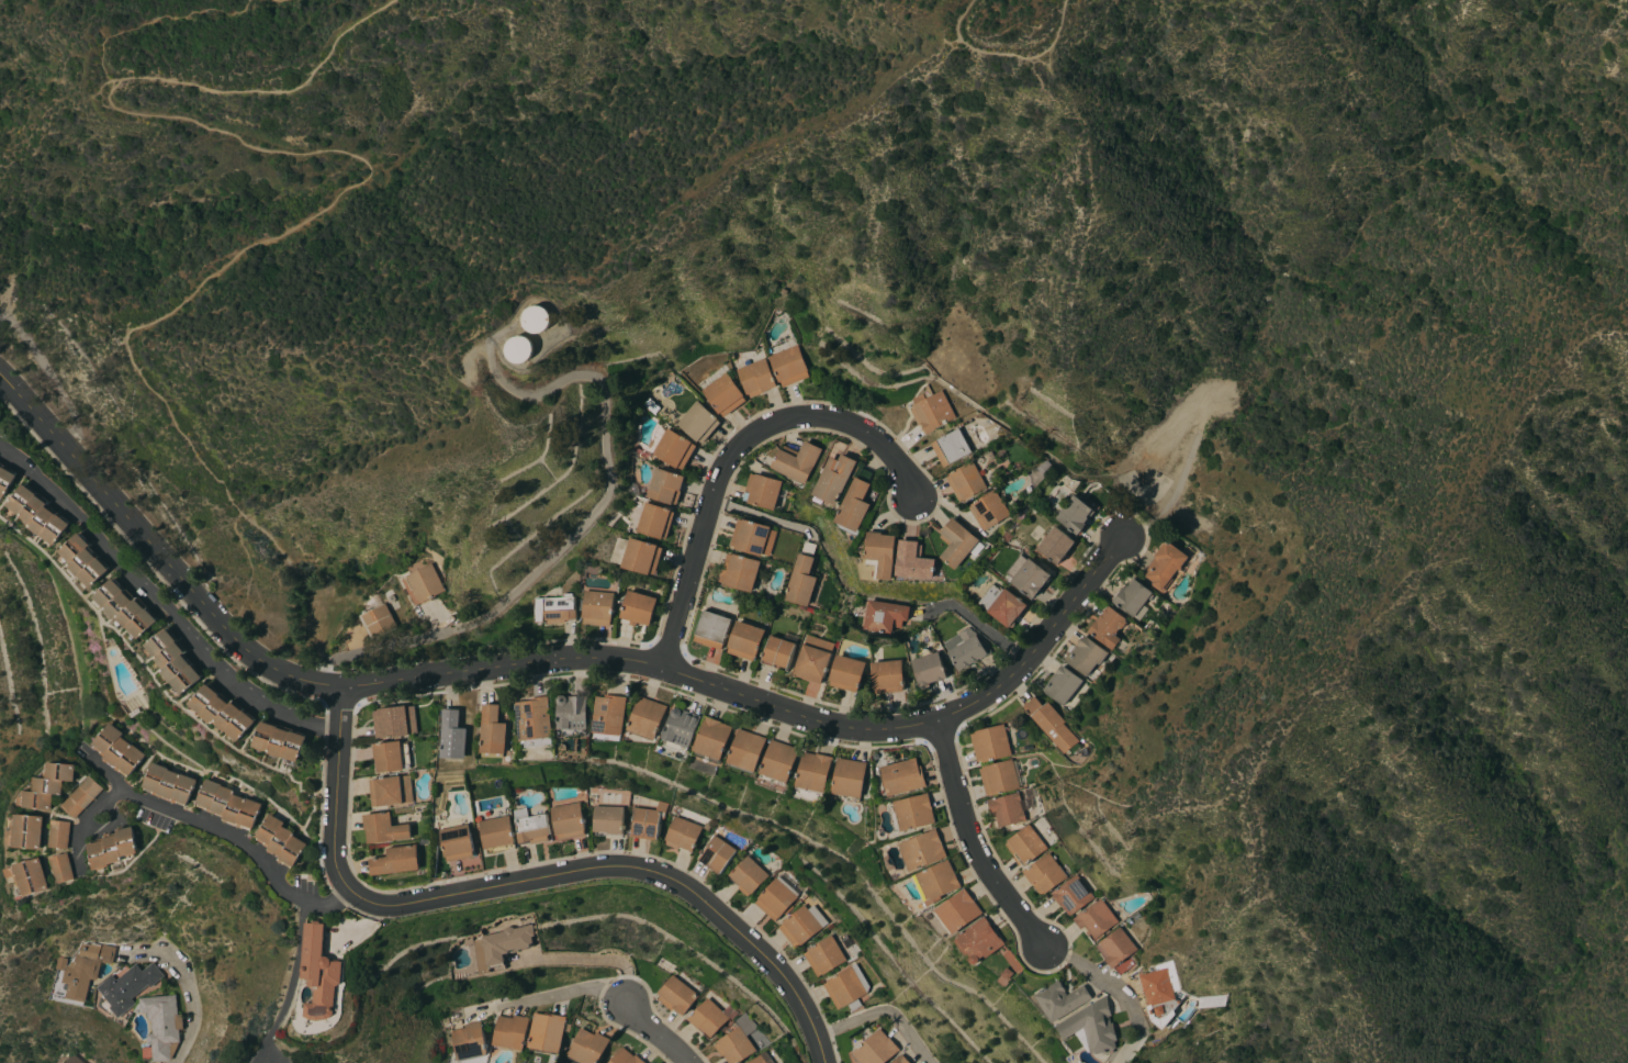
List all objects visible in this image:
road: (1000, 41)
road: (248, 72)
road: (202, 265)
building: (535, 318)
building: (519, 349)
building: (788, 366)
building: (756, 378)
building: (723, 394)
building: (931, 412)
building: (697, 422)
building: (951, 447)
building: (673, 449)
road: (729, 450)
building: (797, 462)
building: (834, 479)
building: (5, 481)
building: (966, 481)
building: (664, 486)
building: (762, 491)
building: (854, 505)
building: (989, 511)
building: (1074, 514)
building: (38, 515)
road: (585, 519)
building: (652, 522)
building: (752, 538)
building: (956, 542)
building: (1055, 546)
building: (880, 553)
building: (635, 556)
building: (83, 561)
building: (913, 562)
building: (1164, 566)
building: (740, 572)
building: (1026, 575)
building: (801, 578)
building: (422, 584)
building: (1132, 598)
road: (165, 605)
building: (1001, 605)
building: (125, 608)
building: (597, 608)
building: (637, 608)
building: (553, 609)
building: (885, 616)
building: (378, 622)
road: (978, 624)
building: (1107, 627)
building: (712, 629)
building: (744, 640)
building: (966, 648)
building: (778, 651)
building: (1085, 656)
building: (812, 659)
building: (173, 661)
road: (541, 663)
building: (928, 668)
building: (846, 673)
building: (887, 676)
building: (1062, 685)
building: (222, 713)
building: (609, 714)
building: (571, 715)
building: (647, 717)
building: (534, 721)
building: (394, 723)
building: (1049, 724)
building: (493, 730)
building: (680, 730)
building: (452, 736)
building: (712, 738)
building: (279, 741)
building: (990, 743)
building: (746, 750)
building: (117, 751)
building: (388, 757)
building: (778, 762)
building: (813, 771)
building: (901, 776)
building: (847, 777)
building: (998, 777)
building: (169, 784)
building: (48, 786)
building: (391, 791)
building: (81, 797)
building: (227, 805)
building: (1007, 809)
building: (910, 813)
building: (607, 819)
building: (568, 820)
building: (647, 821)
road: (87, 823)
building: (531, 825)
building: (384, 829)
road: (220, 831)
building: (27, 832)
building: (496, 832)
building: (682, 833)
building: (59, 835)
road: (974, 840)
building: (280, 841)
building: (456, 842)
building: (1024, 846)
building: (114, 848)
building: (921, 850)
building: (716, 854)
building: (395, 861)
building: (61, 869)
building: (1044, 874)
building: (748, 875)
building: (30, 876)
road: (530, 882)
building: (935, 882)
building: (1071, 895)
building: (776, 898)
building: (958, 911)
building: (1096, 919)
building: (801, 925)
road: (360, 932)
building: (979, 941)
building: (503, 943)
building: (1115, 948)
building: (823, 956)
building: (1012, 962)
building: (83, 972)
building: (319, 973)
road: (1101, 977)
road: (186, 984)
road: (295, 985)
building: (127, 987)
building: (845, 988)
building: (1161, 989)
building: (676, 996)
road: (541, 997)
building: (1060, 999)
road: (886, 1011)
building: (708, 1018)
building: (161, 1025)
building: (1092, 1027)
building: (510, 1032)
building: (547, 1032)
road: (653, 1033)
building: (469, 1042)
building: (587, 1047)
building: (734, 1047)
building: (875, 1049)
building: (626, 1058)
building: (70, 1059)
building: (762, 1059)
building: (900, 1060)

